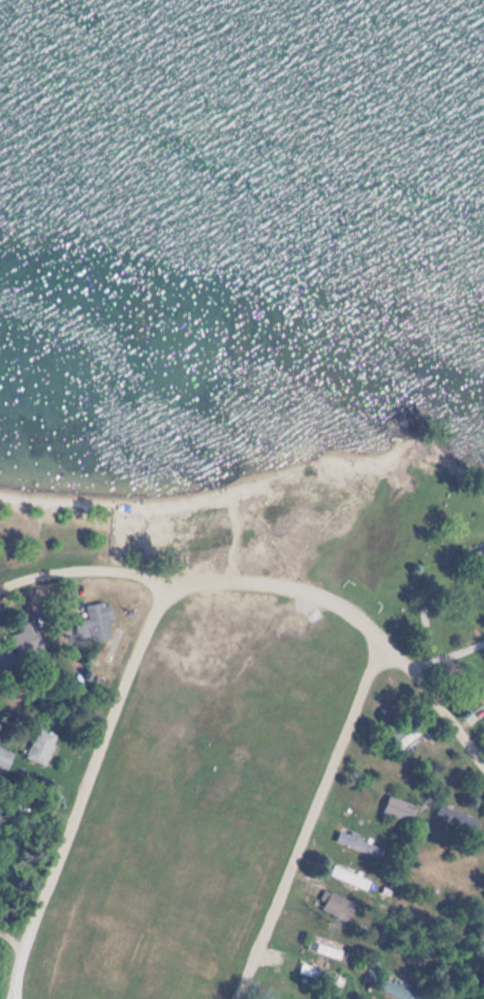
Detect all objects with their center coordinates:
building: (479, 564)
road: (280, 581)
building: (95, 626)
building: (27, 640)
road: (445, 651)
building: (5, 656)
building: (483, 688)
building: (403, 739)
building: (41, 746)
building: (5, 758)
road: (82, 786)
building: (398, 809)
building: (457, 818)
road: (304, 819)
building: (360, 845)
building: (345, 876)
building: (338, 907)
building: (325, 950)
road: (471, 965)
building: (321, 976)
building: (408, 995)
road: (0, 998)

